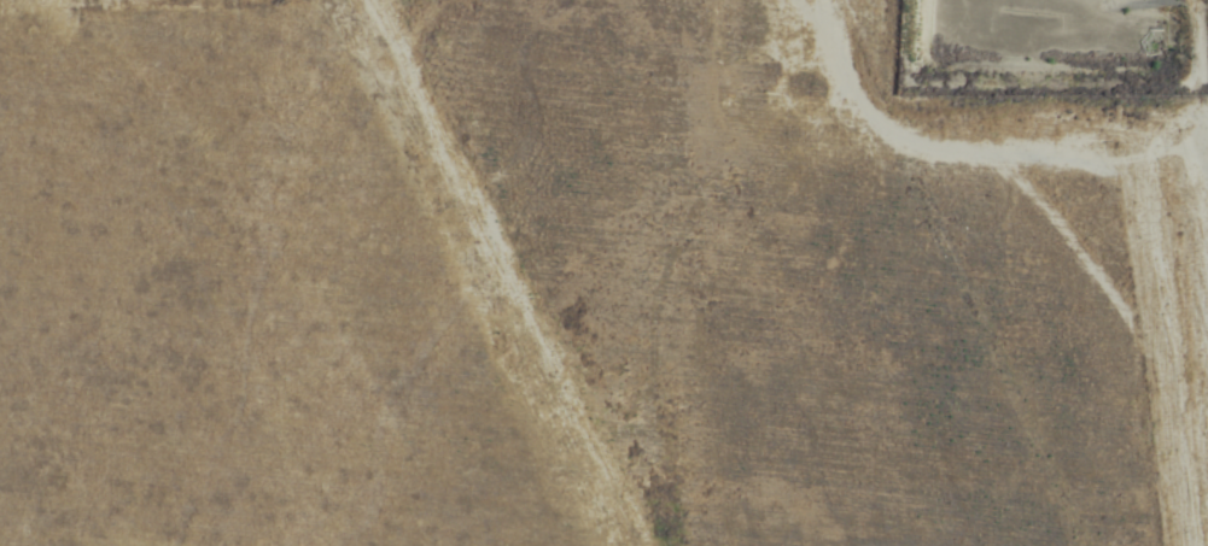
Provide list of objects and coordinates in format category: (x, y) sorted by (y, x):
crop: (603, 272)

